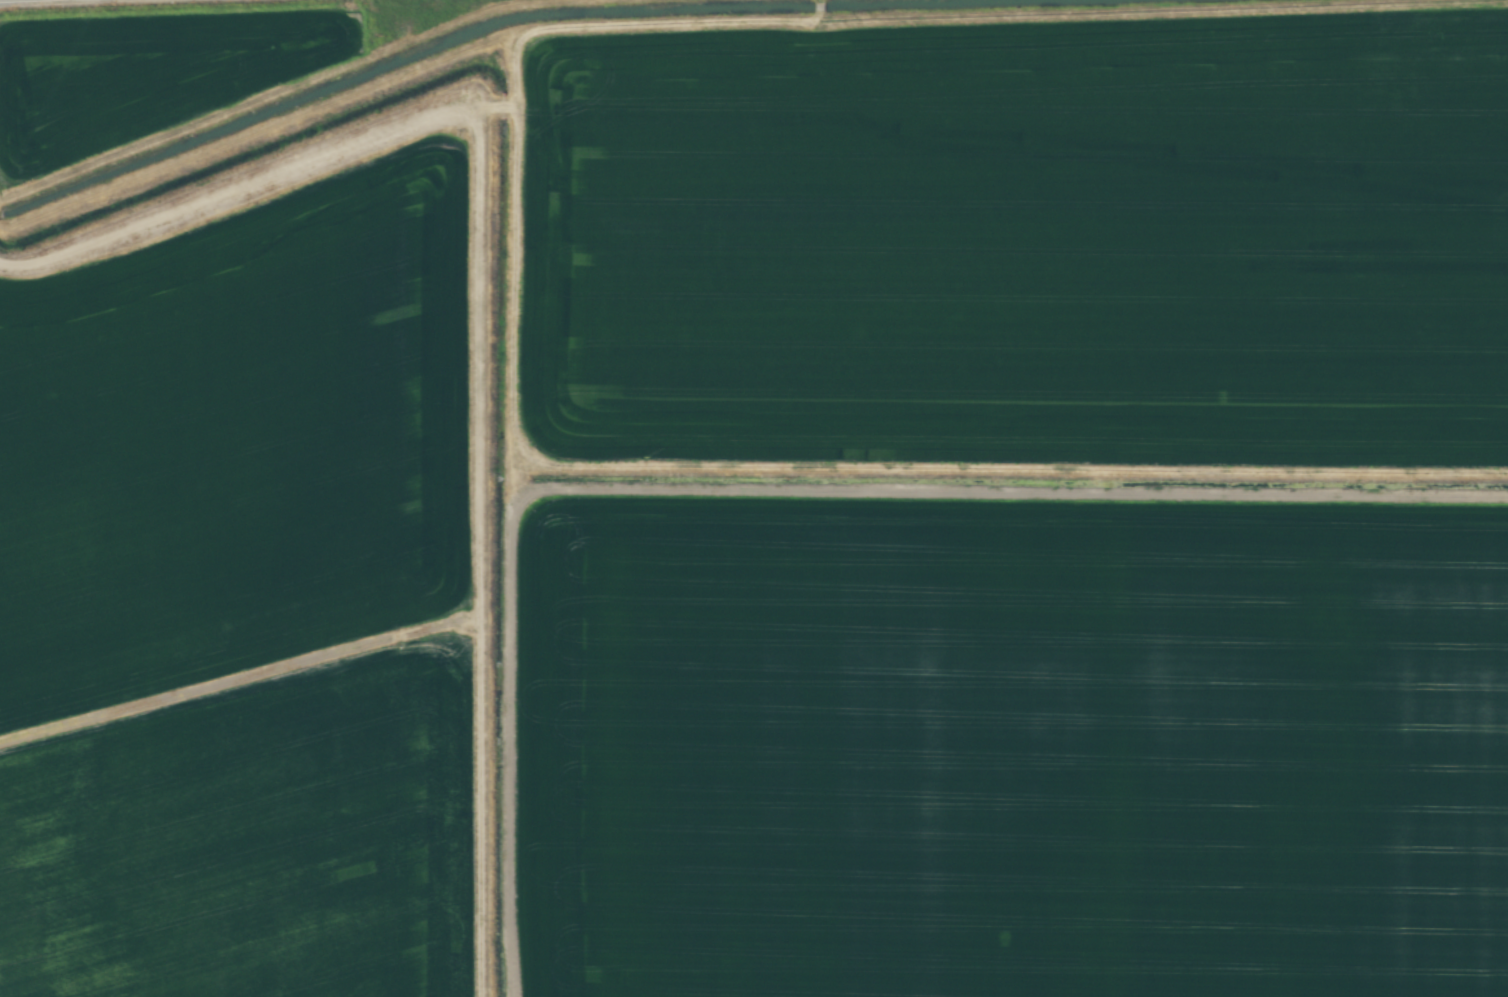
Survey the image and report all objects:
road: (239, 191)
road: (477, 550)

